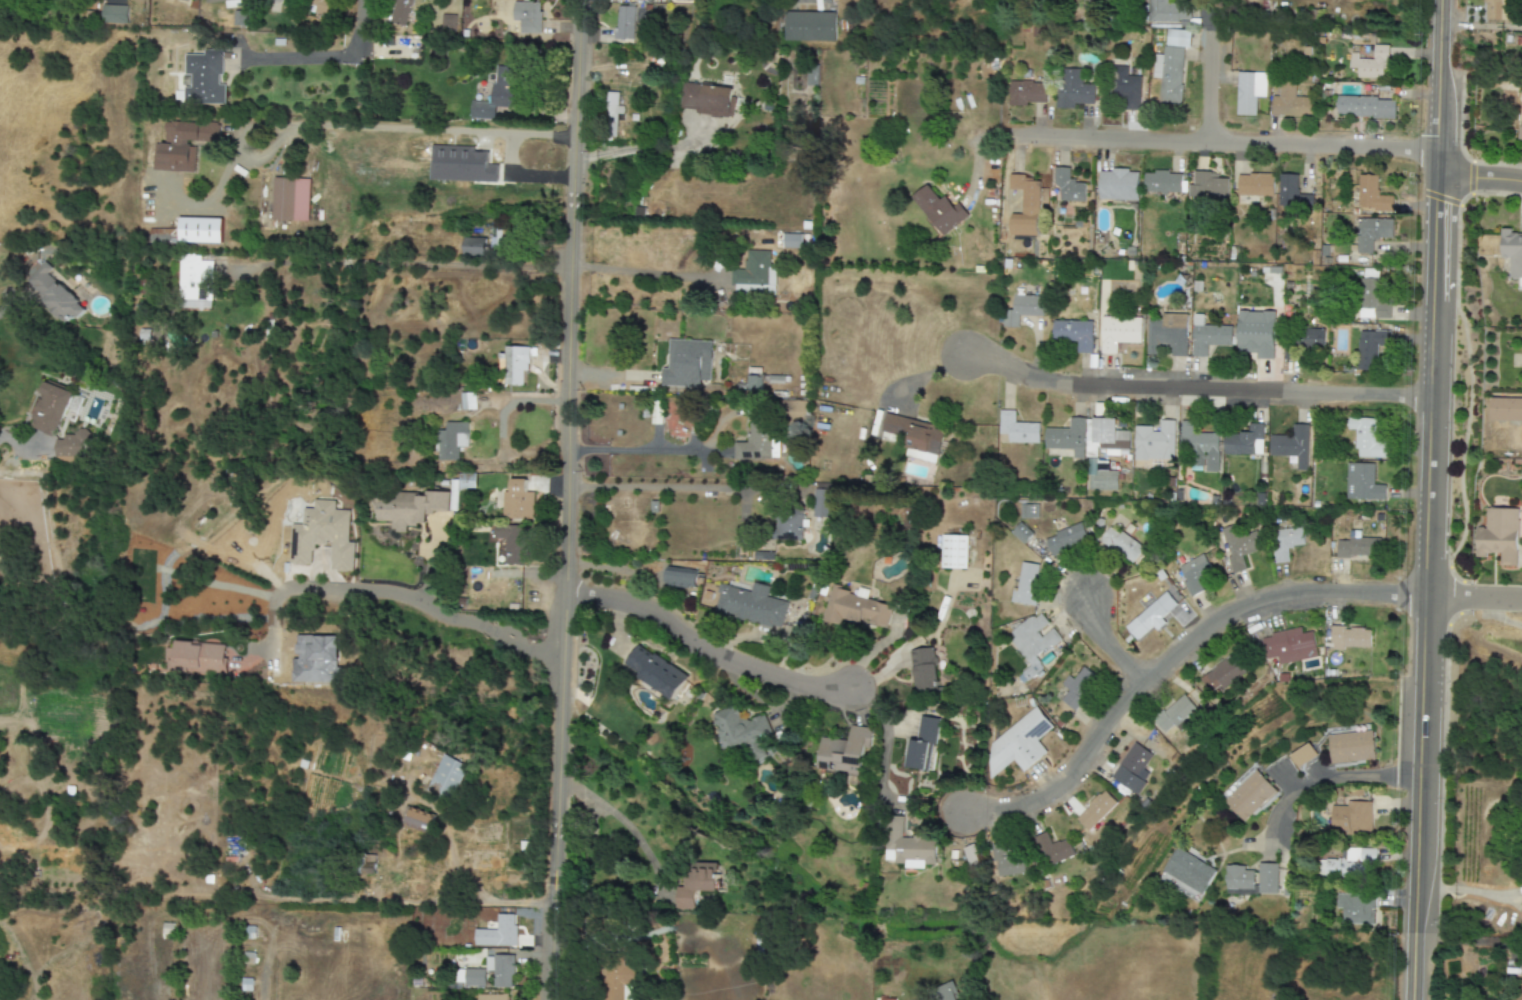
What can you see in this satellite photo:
building: (186, 0)
building: (278, 0)
building: (226, 3)
building: (320, 7)
building: (1495, 10)
building: (1168, 11)
building: (399, 12)
building: (114, 14)
building: (527, 17)
building: (624, 23)
building: (448, 24)
building: (809, 26)
road: (325, 53)
building: (1370, 63)
building: (1171, 65)
building: (811, 77)
building: (203, 79)
road: (1214, 83)
building: (1126, 88)
building: (1072, 90)
building: (1249, 92)
building: (499, 93)
building: (1026, 93)
building: (705, 99)
building: (1290, 102)
building: (612, 107)
building: (1365, 107)
road: (402, 128)
building: (1520, 135)
road: (1226, 140)
building: (181, 145)
road: (631, 150)
road: (1482, 180)
building: (1162, 182)
building: (1117, 185)
building: (1255, 185)
building: (1068, 186)
building: (1207, 186)
building: (1287, 189)
building: (1371, 195)
building: (290, 199)
building: (1026, 206)
building: (939, 210)
building: (199, 230)
building: (1371, 233)
building: (498, 238)
building: (792, 241)
building: (473, 246)
building: (1512, 252)
road: (474, 264)
building: (192, 275)
building: (754, 275)
building: (54, 293)
building: (1373, 301)
building: (1023, 310)
road: (3, 311)
building: (1119, 332)
building: (1075, 333)
building: (1256, 333)
building: (1167, 334)
building: (1208, 336)
building: (1312, 339)
building: (1370, 348)
building: (515, 363)
building: (687, 363)
road: (1199, 387)
building: (467, 401)
building: (49, 409)
building: (794, 410)
building: (1506, 410)
building: (1017, 429)
building: (913, 433)
building: (1104, 437)
building: (1367, 437)
building: (1067, 439)
building: (451, 441)
road: (16, 442)
building: (756, 442)
building: (1155, 442)
building: (1244, 442)
building: (1199, 445)
building: (71, 446)
building: (1292, 446)
road: (641, 451)
building: (1100, 476)
building: (1362, 483)
road: (664, 488)
road: (1429, 499)
road: (565, 500)
building: (822, 500)
building: (517, 501)
building: (1028, 511)
building: (1021, 533)
building: (322, 536)
building: (1070, 540)
building: (1504, 542)
building: (511, 543)
building: (1238, 546)
building: (1287, 546)
building: (1122, 548)
building: (499, 552)
building: (954, 552)
building: (1356, 553)
building: (1197, 575)
building: (680, 578)
building: (1031, 585)
road: (1473, 600)
building: (752, 605)
road: (426, 606)
building: (854, 608)
building: (1159, 614)
road: (271, 635)
building: (1350, 638)
road: (1111, 639)
building: (1037, 646)
road: (705, 647)
building: (1288, 649)
road: (1173, 652)
building: (194, 658)
building: (924, 670)
building: (655, 671)
building: (1225, 678)
building: (1077, 688)
building: (1178, 720)
building: (741, 731)
road: (885, 741)
building: (1021, 749)
building: (1353, 750)
building: (844, 752)
building: (1303, 756)
building: (1135, 770)
building: (447, 777)
road: (1327, 781)
building: (1251, 798)
building: (1098, 814)
building: (419, 821)
road: (623, 822)
building: (1351, 822)
building: (908, 847)
building: (1055, 849)
building: (972, 855)
building: (1007, 862)
building: (1349, 864)
building: (1187, 878)
building: (1253, 883)
building: (694, 884)
road: (1468, 890)
road: (340, 898)
building: (1355, 908)
building: (505, 928)
building: (484, 937)
building: (499, 970)
building: (473, 977)
building: (619, 982)
building: (944, 992)
building: (492, 997)

